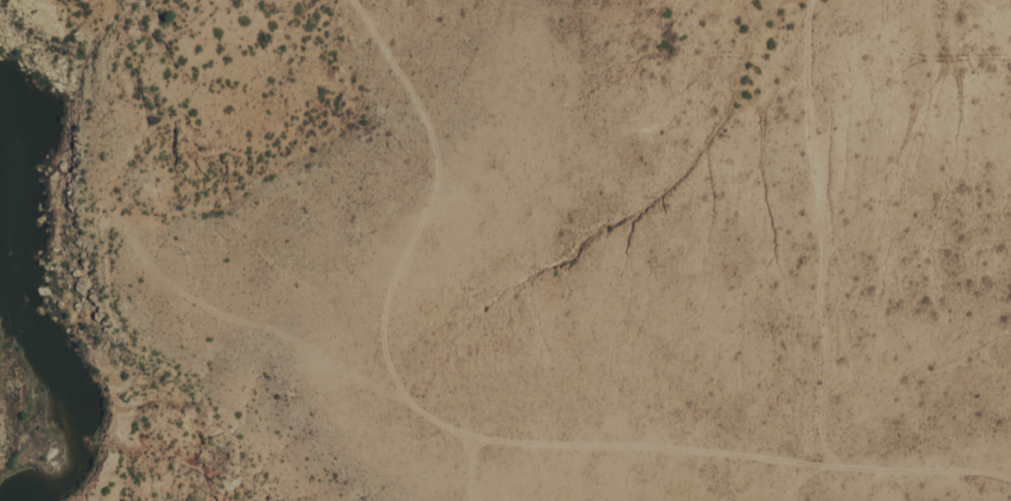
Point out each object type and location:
road: (824, 238)
river: (36, 306)
road: (486, 439)

